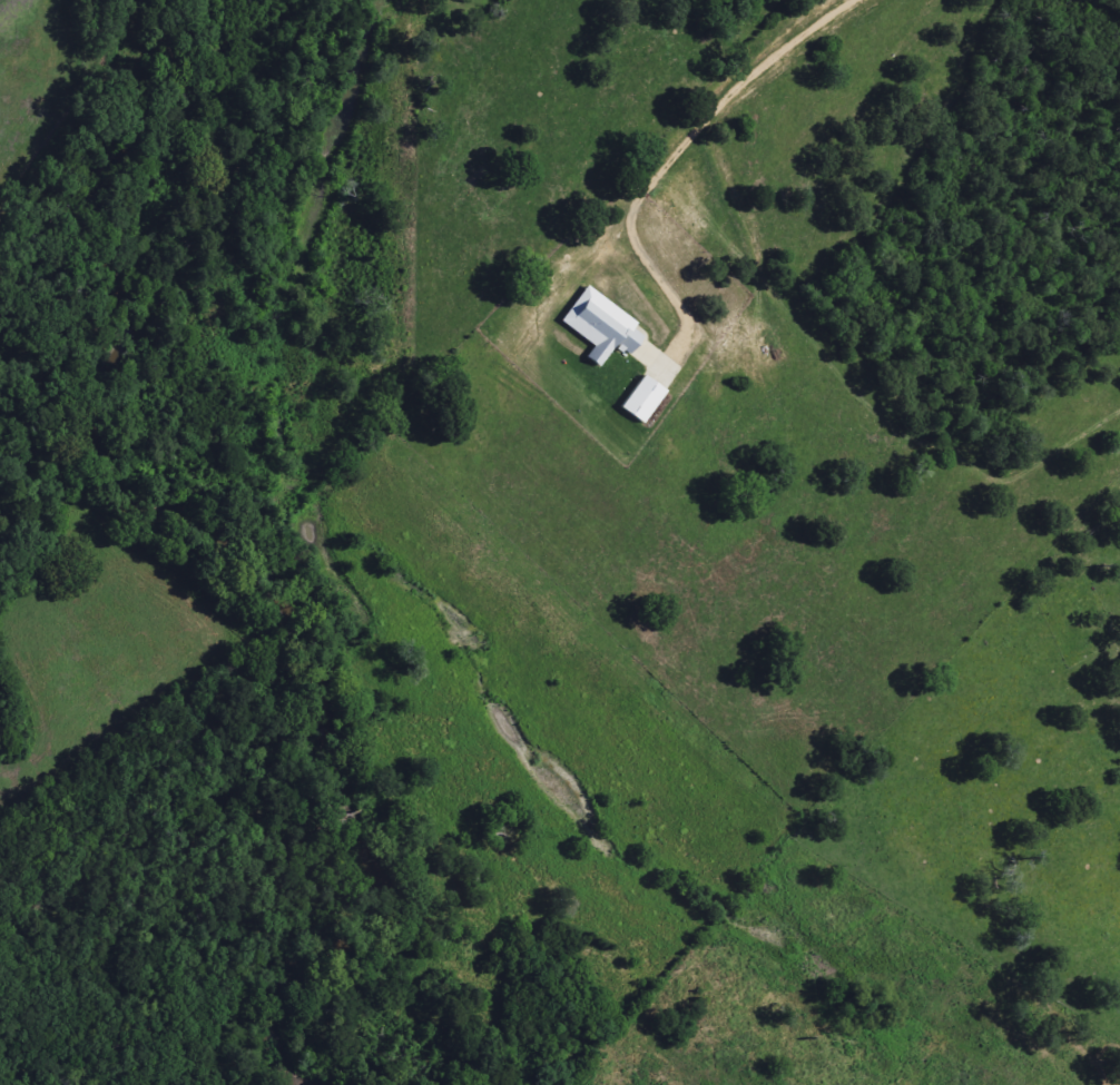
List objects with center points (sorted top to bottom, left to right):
road: (689, 134)
building: (599, 327)
building: (641, 401)

